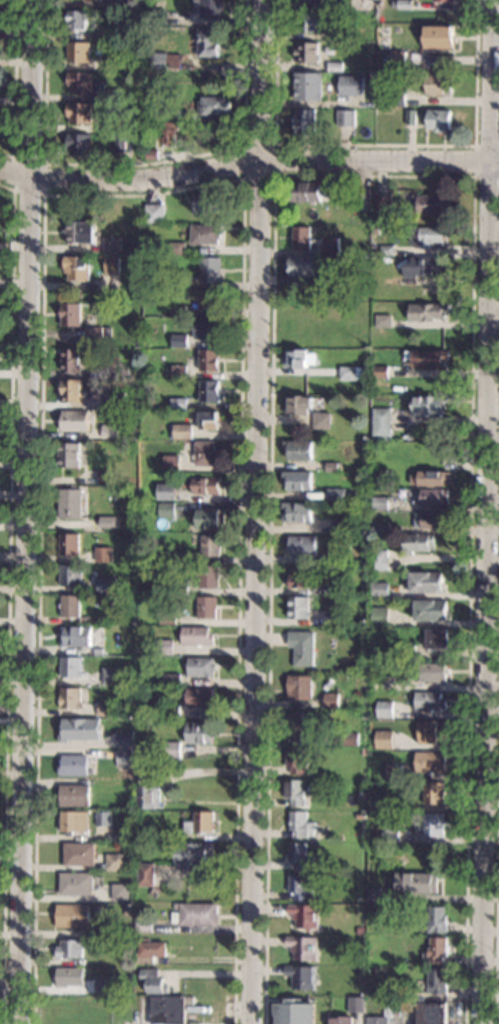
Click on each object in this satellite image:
building: (93, 0)
building: (308, 0)
building: (444, 0)
building: (403, 5)
road: (75, 7)
building: (209, 8)
building: (324, 13)
building: (155, 16)
building: (77, 21)
building: (309, 22)
building: (118, 31)
building: (135, 31)
building: (339, 35)
building: (439, 36)
building: (208, 43)
building: (78, 52)
building: (307, 52)
building: (384, 59)
building: (396, 59)
building: (157, 61)
building: (112, 65)
building: (334, 66)
building: (370, 75)
building: (79, 82)
building: (437, 84)
road: (14, 86)
building: (307, 86)
building: (351, 86)
building: (112, 94)
building: (396, 97)
building: (213, 105)
building: (78, 112)
building: (146, 116)
building: (185, 116)
building: (345, 118)
building: (411, 118)
building: (438, 120)
building: (304, 121)
building: (111, 126)
building: (165, 132)
building: (119, 142)
building: (78, 144)
road: (274, 145)
road: (376, 146)
road: (496, 150)
building: (152, 154)
road: (245, 162)
road: (474, 162)
road: (138, 165)
road: (373, 175)
building: (304, 192)
road: (43, 193)
road: (152, 194)
building: (210, 202)
building: (363, 202)
building: (382, 203)
building: (430, 203)
building: (154, 213)
building: (367, 231)
building: (401, 231)
building: (80, 233)
building: (205, 234)
building: (427, 236)
building: (301, 238)
building: (112, 246)
building: (176, 248)
building: (330, 250)
building: (387, 250)
building: (334, 259)
building: (112, 265)
building: (302, 266)
building: (76, 268)
building: (426, 268)
building: (210, 270)
building: (331, 279)
building: (182, 282)
building: (210, 301)
building: (178, 311)
building: (428, 312)
building: (70, 314)
building: (383, 322)
building: (299, 326)
building: (207, 329)
building: (93, 332)
building: (107, 332)
building: (179, 341)
building: (333, 342)
building: (296, 359)
building: (429, 359)
building: (71, 360)
building: (209, 360)
building: (108, 368)
building: (125, 372)
building: (178, 372)
building: (380, 372)
building: (348, 373)
building: (70, 391)
building: (209, 392)
building: (116, 400)
building: (178, 403)
building: (299, 406)
building: (429, 406)
building: (184, 420)
building: (74, 421)
building: (208, 421)
building: (322, 421)
building: (382, 423)
building: (109, 431)
building: (182, 432)
building: (409, 436)
building: (299, 450)
building: (206, 454)
building: (68, 455)
building: (172, 464)
building: (332, 467)
building: (412, 468)
building: (431, 478)
building: (106, 479)
building: (298, 480)
building: (206, 485)
building: (166, 492)
building: (335, 495)
building: (433, 497)
building: (380, 503)
building: (69, 504)
building: (167, 510)
road: (28, 511)
road: (258, 511)
road: (488, 511)
building: (298, 512)
building: (210, 519)
building: (430, 520)
building: (109, 522)
building: (342, 525)
building: (381, 529)
building: (419, 543)
building: (68, 544)
building: (211, 545)
building: (301, 545)
building: (103, 554)
building: (337, 555)
building: (183, 558)
building: (379, 560)
building: (70, 575)
building: (206, 576)
building: (299, 577)
building: (122, 581)
building: (425, 582)
building: (106, 585)
building: (332, 586)
building: (179, 588)
building: (379, 589)
road: (8, 601)
building: (70, 606)
building: (207, 607)
building: (298, 608)
building: (430, 610)
building: (379, 616)
building: (168, 617)
building: (103, 618)
building: (332, 618)
building: (85, 620)
building: (75, 636)
building: (197, 636)
building: (437, 639)
building: (165, 647)
building: (302, 648)
building: (407, 650)
building: (98, 651)
building: (373, 666)
building: (70, 667)
building: (202, 667)
building: (432, 673)
building: (111, 676)
building: (172, 680)
building: (299, 688)
building: (70, 698)
building: (200, 698)
building: (331, 700)
building: (429, 701)
building: (106, 708)
building: (384, 710)
building: (171, 711)
building: (299, 725)
building: (79, 730)
building: (431, 732)
building: (199, 733)
building: (125, 739)
building: (383, 739)
building: (349, 740)
building: (172, 749)
building: (364, 752)
building: (124, 758)
building: (295, 761)
building: (430, 762)
building: (74, 765)
building: (393, 772)
building: (147, 777)
building: (295, 792)
building: (433, 793)
building: (75, 796)
building: (361, 796)
building: (148, 797)
building: (125, 803)
building: (395, 805)
building: (360, 817)
building: (103, 819)
building: (75, 822)
building: (202, 822)
building: (301, 825)
building: (433, 825)
building: (146, 832)
building: (390, 832)
building: (79, 854)
building: (193, 854)
building: (299, 856)
building: (116, 862)
building: (341, 865)
road: (497, 874)
building: (146, 875)
building: (385, 880)
building: (416, 883)
building: (77, 884)
building: (300, 888)
building: (155, 892)
building: (121, 893)
building: (372, 894)
building: (358, 900)
building: (176, 906)
building: (196, 915)
building: (73, 916)
building: (304, 916)
building: (436, 920)
building: (144, 926)
building: (105, 929)
building: (359, 931)
building: (302, 947)
building: (70, 949)
building: (436, 951)
building: (150, 952)
building: (362, 961)
building: (372, 971)
building: (301, 976)
building: (70, 977)
building: (153, 980)
building: (437, 982)
building: (103, 985)
road: (11, 989)
building: (386, 1003)
building: (356, 1005)
building: (396, 1008)
building: (167, 1010)
building: (428, 1012)
building: (288, 1013)
building: (341, 1020)
building: (377, 1020)
building: (192, 1023)

